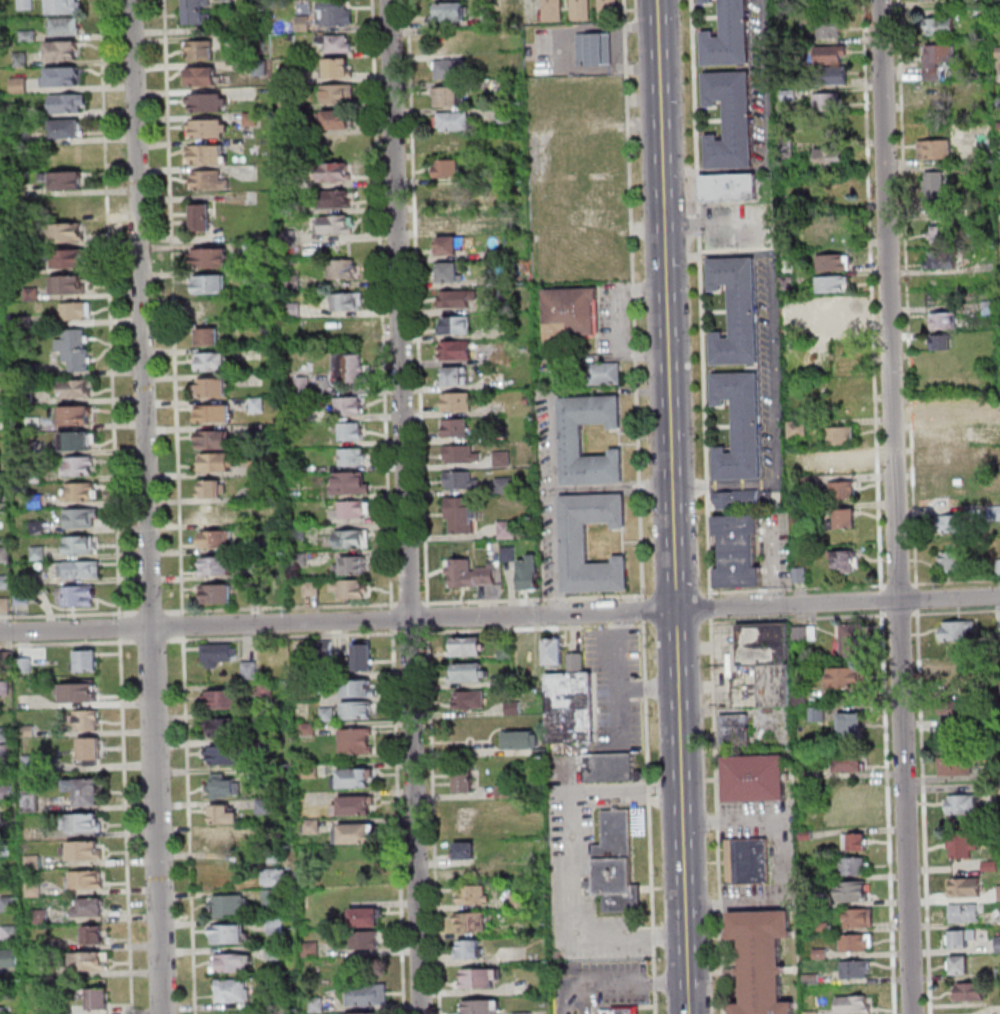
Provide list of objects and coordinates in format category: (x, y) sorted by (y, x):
building: (553, 0)
building: (579, 0)
building: (706, 0)
building: (512, 2)
building: (27, 4)
building: (609, 4)
building: (582, 5)
building: (66, 6)
building: (553, 6)
building: (196, 12)
building: (452, 12)
building: (336, 13)
building: (609, 15)
building: (554, 16)
building: (582, 16)
building: (304, 24)
building: (939, 25)
building: (66, 26)
building: (829, 28)
building: (30, 36)
building: (727, 36)
building: (293, 38)
building: (258, 43)
building: (336, 44)
building: (65, 50)
road: (570, 50)
building: (596, 50)
building: (202, 51)
building: (531, 52)
building: (831, 54)
building: (22, 58)
building: (936, 59)
building: (261, 68)
building: (339, 68)
building: (451, 69)
building: (291, 75)
building: (834, 75)
building: (64, 76)
building: (203, 76)
building: (21, 85)
building: (504, 86)
building: (939, 93)
building: (340, 94)
building: (451, 97)
building: (828, 101)
building: (69, 103)
building: (209, 103)
building: (287, 105)
building: (12, 111)
building: (505, 116)
building: (338, 119)
building: (729, 119)
building: (251, 120)
building: (455, 121)
building: (208, 128)
building: (67, 129)
road: (766, 134)
building: (24, 138)
building: (451, 142)
building: (934, 149)
building: (208, 154)
building: (829, 156)
building: (448, 169)
building: (335, 172)
building: (64, 180)
building: (210, 180)
building: (936, 183)
building: (728, 187)
building: (454, 196)
building: (337, 199)
building: (495, 201)
building: (66, 206)
building: (290, 210)
building: (202, 218)
building: (290, 222)
building: (453, 222)
building: (337, 225)
building: (941, 233)
building: (68, 234)
building: (289, 237)
building: (18, 241)
building: (452, 245)
building: (252, 251)
building: (499, 256)
building: (71, 259)
building: (213, 259)
building: (937, 259)
building: (833, 262)
building: (343, 269)
building: (450, 273)
building: (253, 276)
building: (497, 281)
building: (294, 282)
building: (832, 283)
building: (69, 284)
building: (211, 285)
building: (32, 294)
building: (459, 299)
road: (635, 300)
building: (348, 301)
road: (419, 303)
road: (383, 304)
road: (174, 308)
road: (111, 309)
building: (75, 311)
building: (294, 311)
building: (735, 312)
building: (570, 314)
building: (830, 315)
building: (941, 320)
building: (26, 321)
road: (619, 323)
building: (458, 326)
building: (345, 327)
building: (209, 337)
building: (940, 341)
building: (76, 350)
building: (458, 351)
building: (213, 362)
building: (350, 368)
road: (772, 368)
building: (31, 371)
building: (606, 374)
building: (455, 376)
building: (564, 378)
building: (304, 387)
building: (214, 388)
building: (75, 389)
building: (27, 398)
building: (527, 401)
building: (459, 402)
building: (258, 406)
building: (349, 406)
building: (950, 410)
building: (216, 414)
building: (76, 415)
building: (739, 426)
building: (2, 427)
building: (458, 428)
building: (352, 432)
building: (840, 434)
building: (951, 435)
building: (572, 440)
building: (215, 441)
building: (76, 442)
building: (31, 449)
building: (462, 455)
building: (353, 458)
building: (503, 460)
building: (952, 460)
building: (219, 462)
building: (840, 463)
building: (80, 466)
building: (258, 468)
building: (36, 477)
building: (462, 481)
building: (953, 484)
building: (352, 485)
building: (506, 486)
building: (842, 489)
building: (212, 490)
building: (82, 493)
building: (259, 495)
building: (4, 502)
building: (39, 502)
road: (407, 506)
road: (145, 507)
road: (672, 507)
road: (706, 507)
road: (894, 507)
building: (355, 510)
building: (216, 514)
building: (462, 515)
building: (82, 518)
building: (844, 518)
building: (259, 519)
building: (955, 523)
building: (40, 528)
building: (508, 530)
building: (299, 533)
building: (216, 540)
building: (354, 540)
building: (576, 543)
building: (83, 545)
building: (260, 545)
building: (737, 551)
building: (510, 553)
building: (39, 554)
building: (6, 555)
building: (301, 560)
building: (952, 560)
building: (845, 561)
building: (219, 567)
building: (352, 567)
building: (82, 569)
building: (469, 574)
building: (531, 574)
building: (5, 583)
building: (312, 589)
building: (351, 590)
building: (257, 594)
building: (219, 595)
building: (25, 596)
building: (81, 597)
road: (533, 600)
road: (410, 604)
building: (6, 606)
road: (281, 609)
road: (644, 612)
road: (151, 613)
road: (69, 615)
road: (500, 616)
road: (428, 618)
road: (393, 619)
road: (645, 624)
road: (184, 626)
road: (122, 628)
building: (957, 630)
road: (411, 633)
road: (284, 637)
building: (851, 640)
road: (152, 641)
road: (251, 643)
road: (68, 644)
building: (468, 647)
building: (326, 649)
road: (194, 650)
building: (506, 652)
building: (556, 652)
building: (526, 654)
building: (219, 655)
building: (365, 658)
building: (86, 659)
building: (764, 659)
building: (8, 660)
building: (578, 663)
building: (27, 666)
building: (251, 672)
building: (325, 673)
building: (470, 673)
building: (958, 673)
building: (845, 677)
building: (453, 680)
building: (509, 681)
building: (328, 688)
building: (5, 689)
road: (205, 689)
building: (359, 689)
road: (649, 689)
building: (268, 690)
road: (621, 691)
building: (77, 692)
road: (196, 699)
building: (227, 700)
building: (471, 700)
building: (515, 708)
building: (572, 709)
road: (647, 710)
building: (359, 711)
building: (955, 712)
building: (328, 715)
building: (86, 719)
building: (850, 721)
building: (224, 728)
building: (735, 729)
building: (309, 730)
building: (30, 732)
building: (7, 735)
building: (521, 740)
building: (359, 742)
building: (269, 745)
building: (90, 748)
building: (8, 751)
building: (541, 753)
building: (227, 756)
building: (849, 762)
building: (33, 764)
building: (6, 765)
building: (953, 766)
building: (611, 769)
building: (311, 772)
building: (264, 774)
building: (754, 777)
building: (355, 780)
building: (465, 781)
road: (652, 787)
building: (221, 788)
building: (83, 789)
building: (507, 792)
building: (6, 793)
road: (675, 793)
road: (652, 799)
building: (31, 801)
building: (962, 804)
building: (264, 808)
building: (353, 808)
building: (225, 816)
building: (8, 820)
road: (398, 821)
building: (84, 822)
road: (434, 822)
road: (732, 822)
road: (191, 825)
road: (127, 826)
building: (313, 827)
building: (355, 835)
building: (223, 841)
building: (854, 841)
building: (962, 845)
building: (85, 851)
building: (466, 852)
building: (277, 857)
building: (747, 860)
building: (617, 866)
building: (853, 866)
building: (463, 872)
building: (86, 877)
building: (277, 879)
building: (964, 886)
building: (35, 890)
road: (569, 891)
building: (851, 891)
building: (272, 897)
building: (473, 897)
building: (519, 902)
building: (11, 904)
building: (89, 906)
building: (230, 906)
building: (964, 911)
building: (43, 917)
building: (857, 917)
building: (999, 917)
building: (366, 919)
building: (474, 924)
building: (275, 927)
building: (10, 933)
building: (92, 934)
building: (231, 936)
building: (958, 937)
building: (366, 940)
building: (855, 942)
building: (311, 950)
building: (472, 950)
building: (274, 953)
building: (459, 954)
building: (10, 958)
building: (760, 959)
building: (89, 961)
building: (233, 964)
building: (957, 964)
building: (855, 969)
building: (51, 973)
building: (497, 975)
building: (480, 980)
road: (616, 986)
building: (968, 991)
building: (233, 992)
building: (368, 996)
building: (98, 998)
building: (853, 1003)
building: (317, 1006)
building: (482, 1007)
building: (64, 1010)
building: (3, 1011)
building: (623, 1012)
building: (361, 1013)
building: (481, 1013)
building: (527, 1013)

